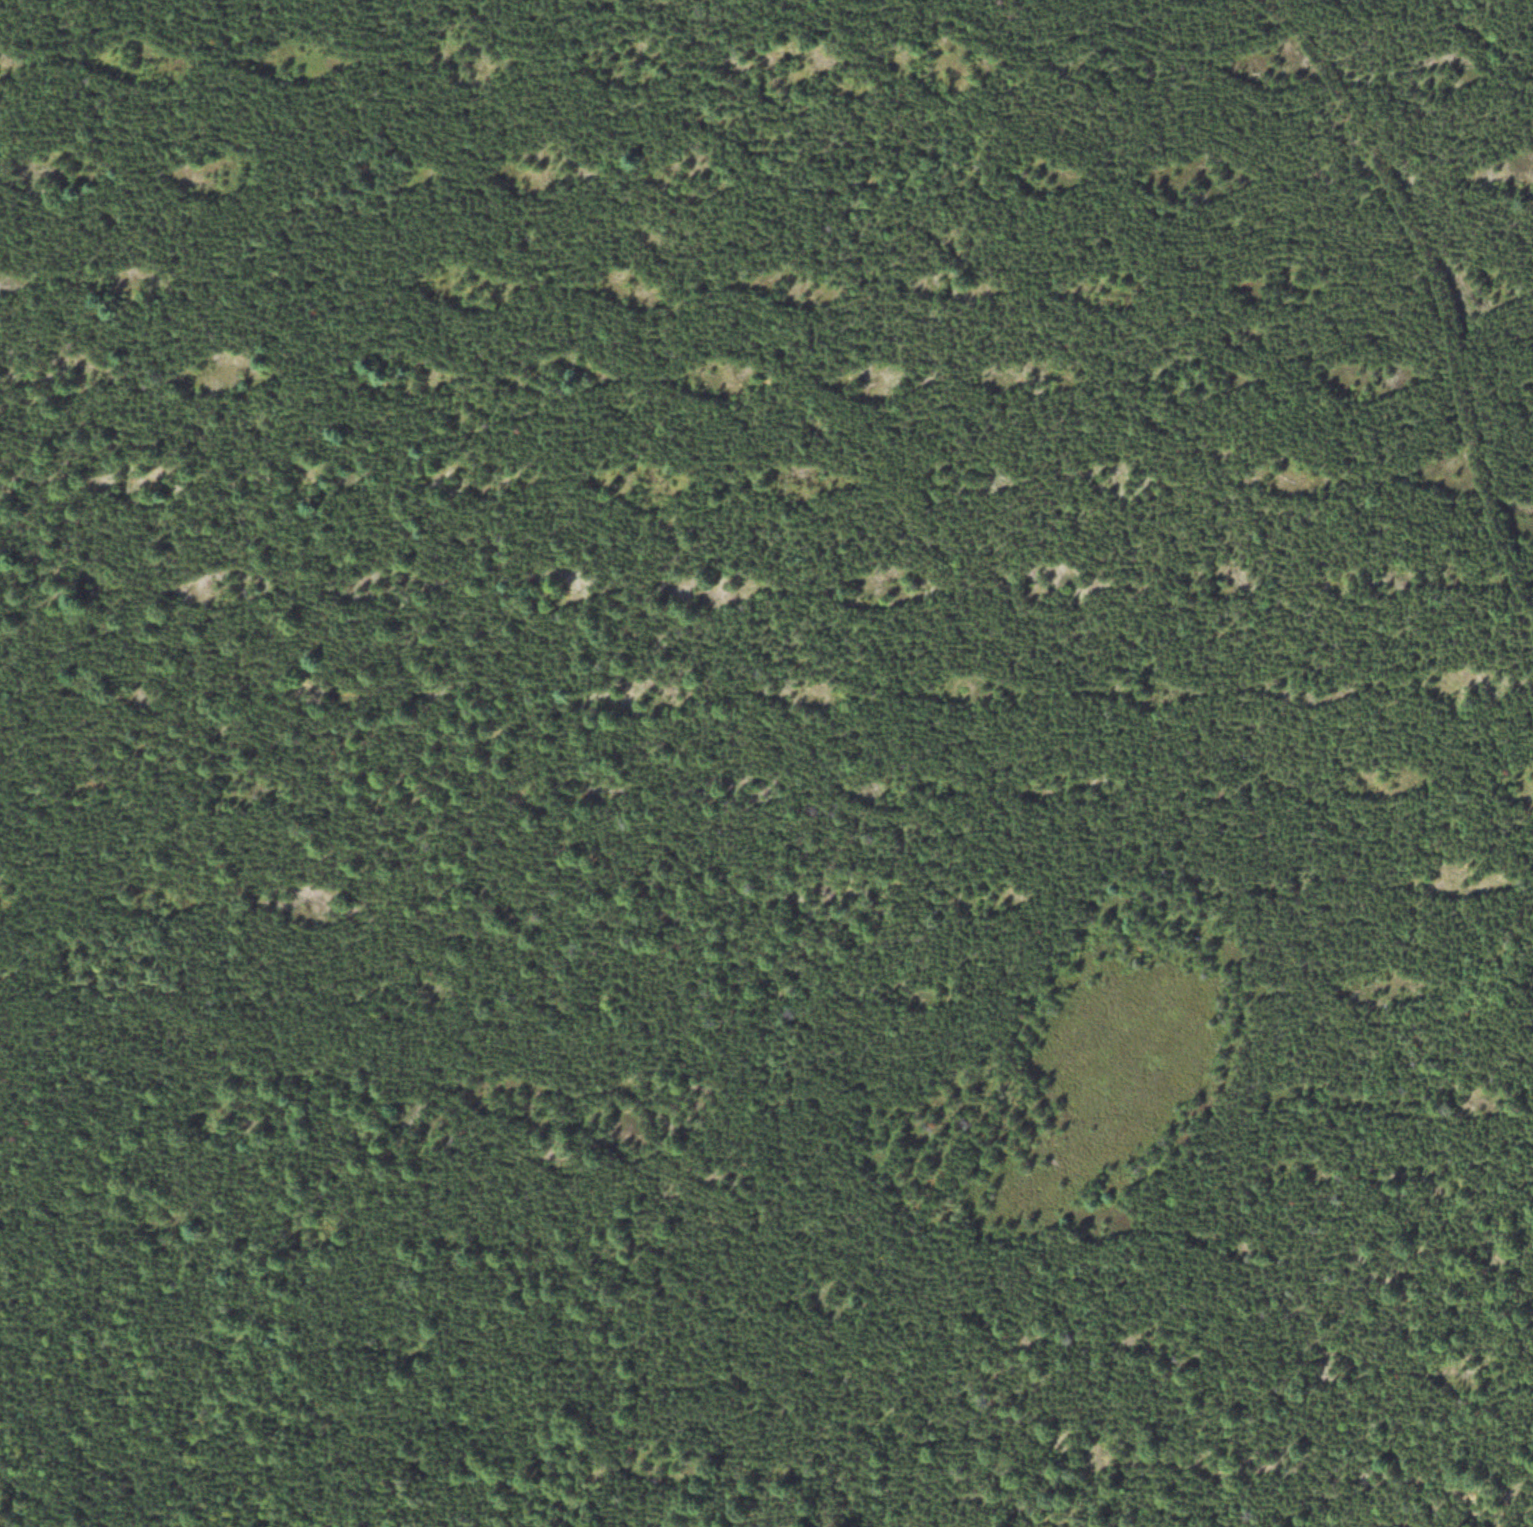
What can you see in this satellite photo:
road: (1449, 311)

